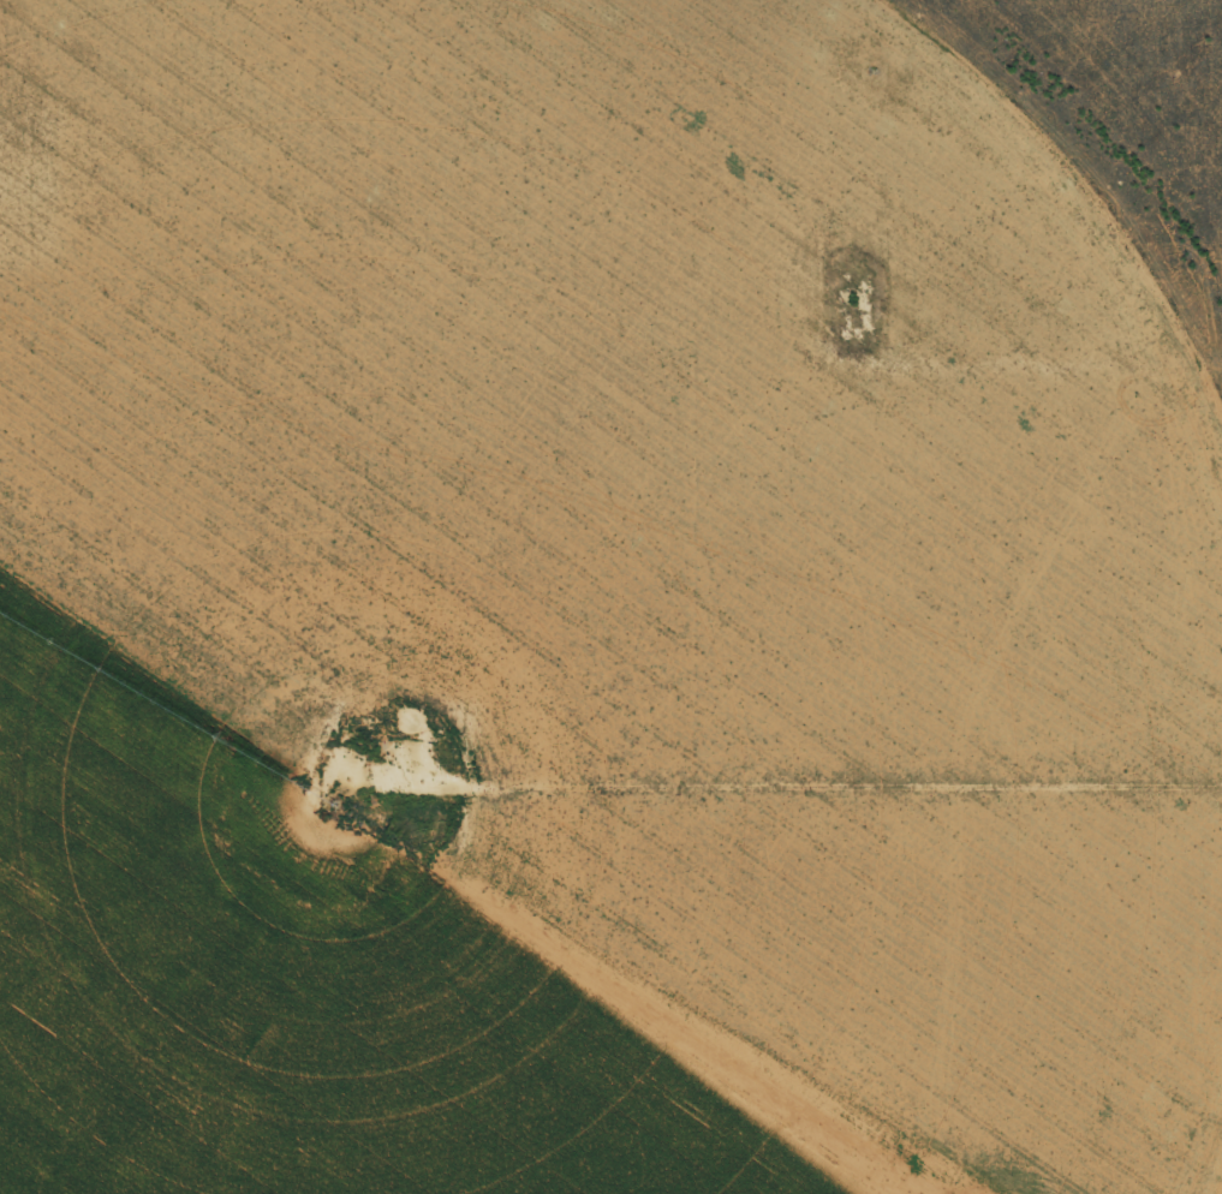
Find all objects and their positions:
road: (844, 1052)

